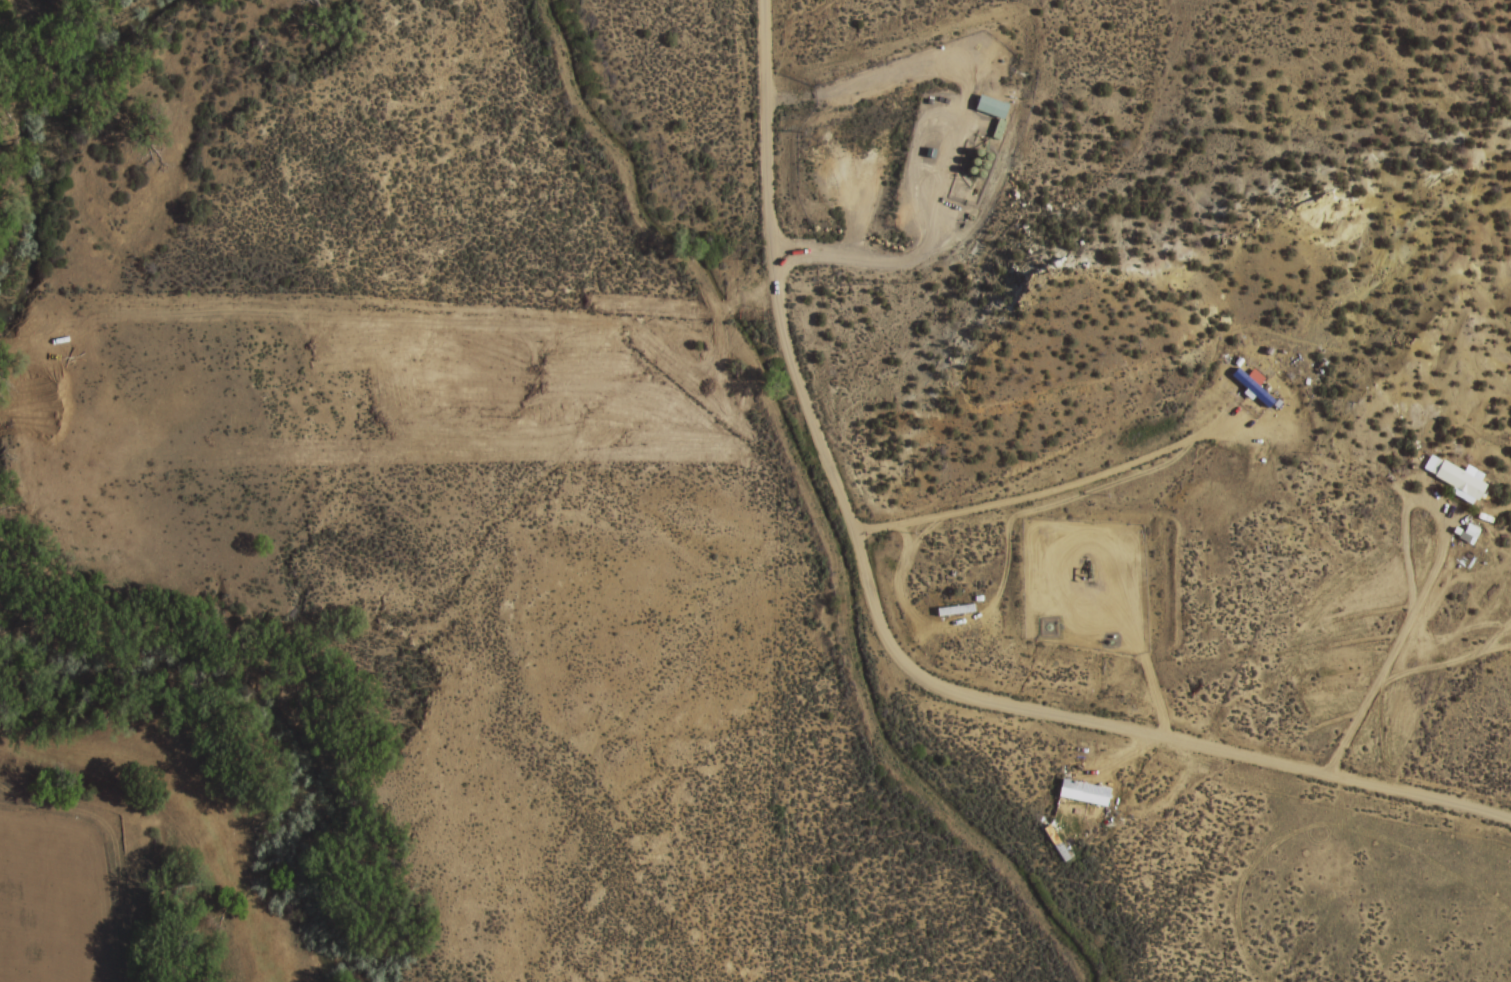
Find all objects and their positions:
river: (59, 122)
building: (998, 129)
building: (1252, 386)
building: (1455, 479)
building: (1468, 532)
building: (1051, 631)
road: (887, 639)
river: (284, 733)
building: (1068, 793)

